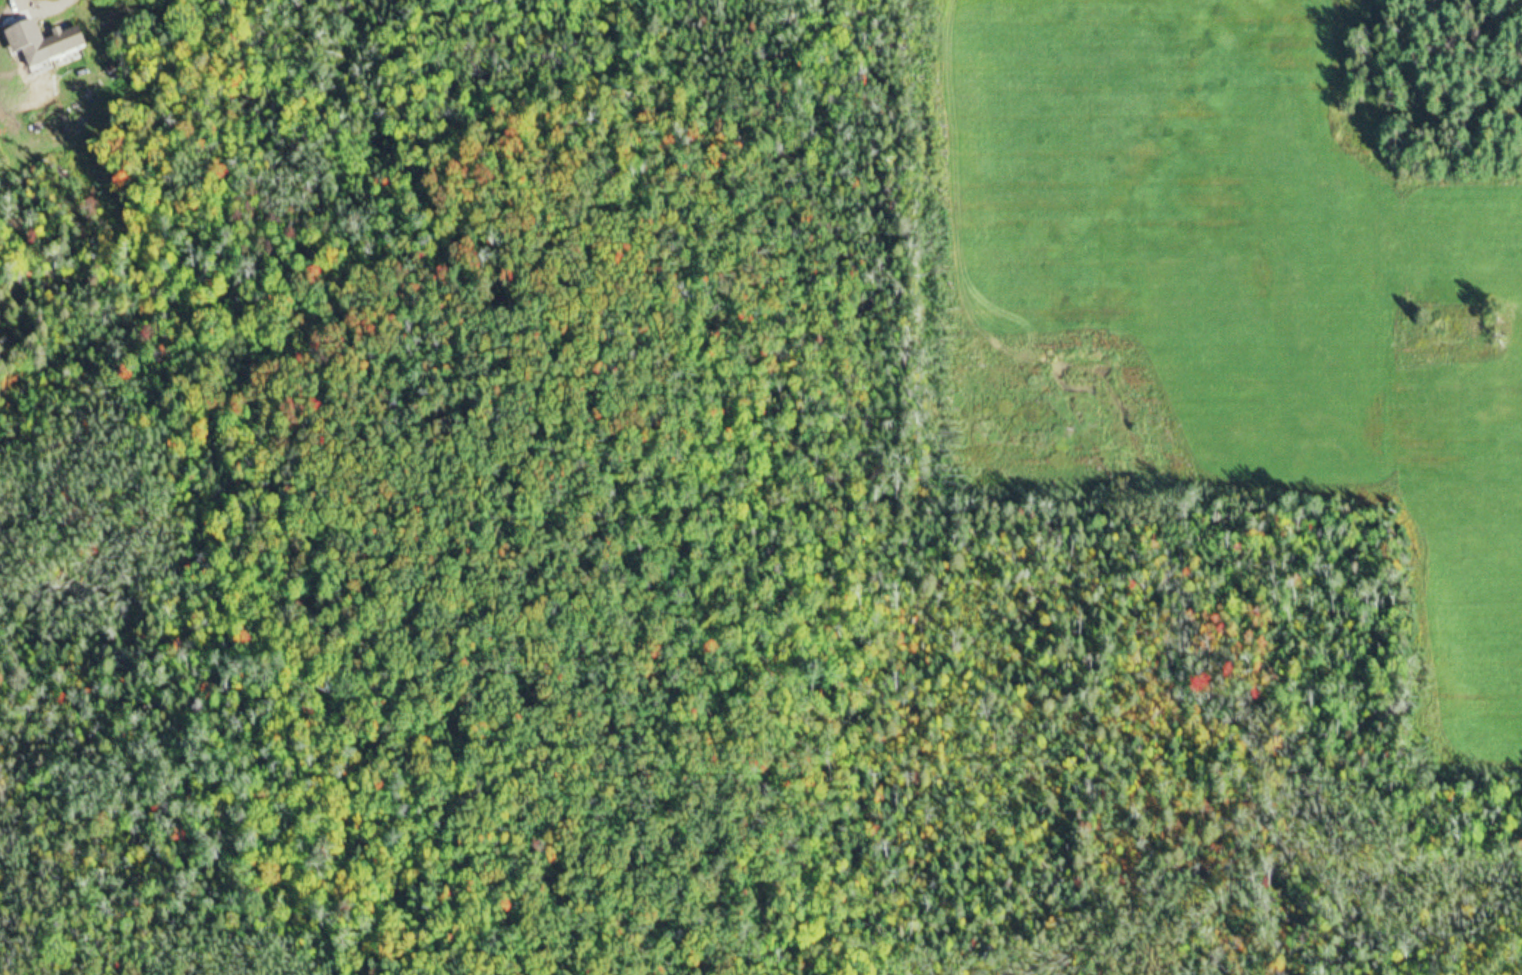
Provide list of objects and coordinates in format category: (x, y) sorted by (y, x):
building: (55, 47)

